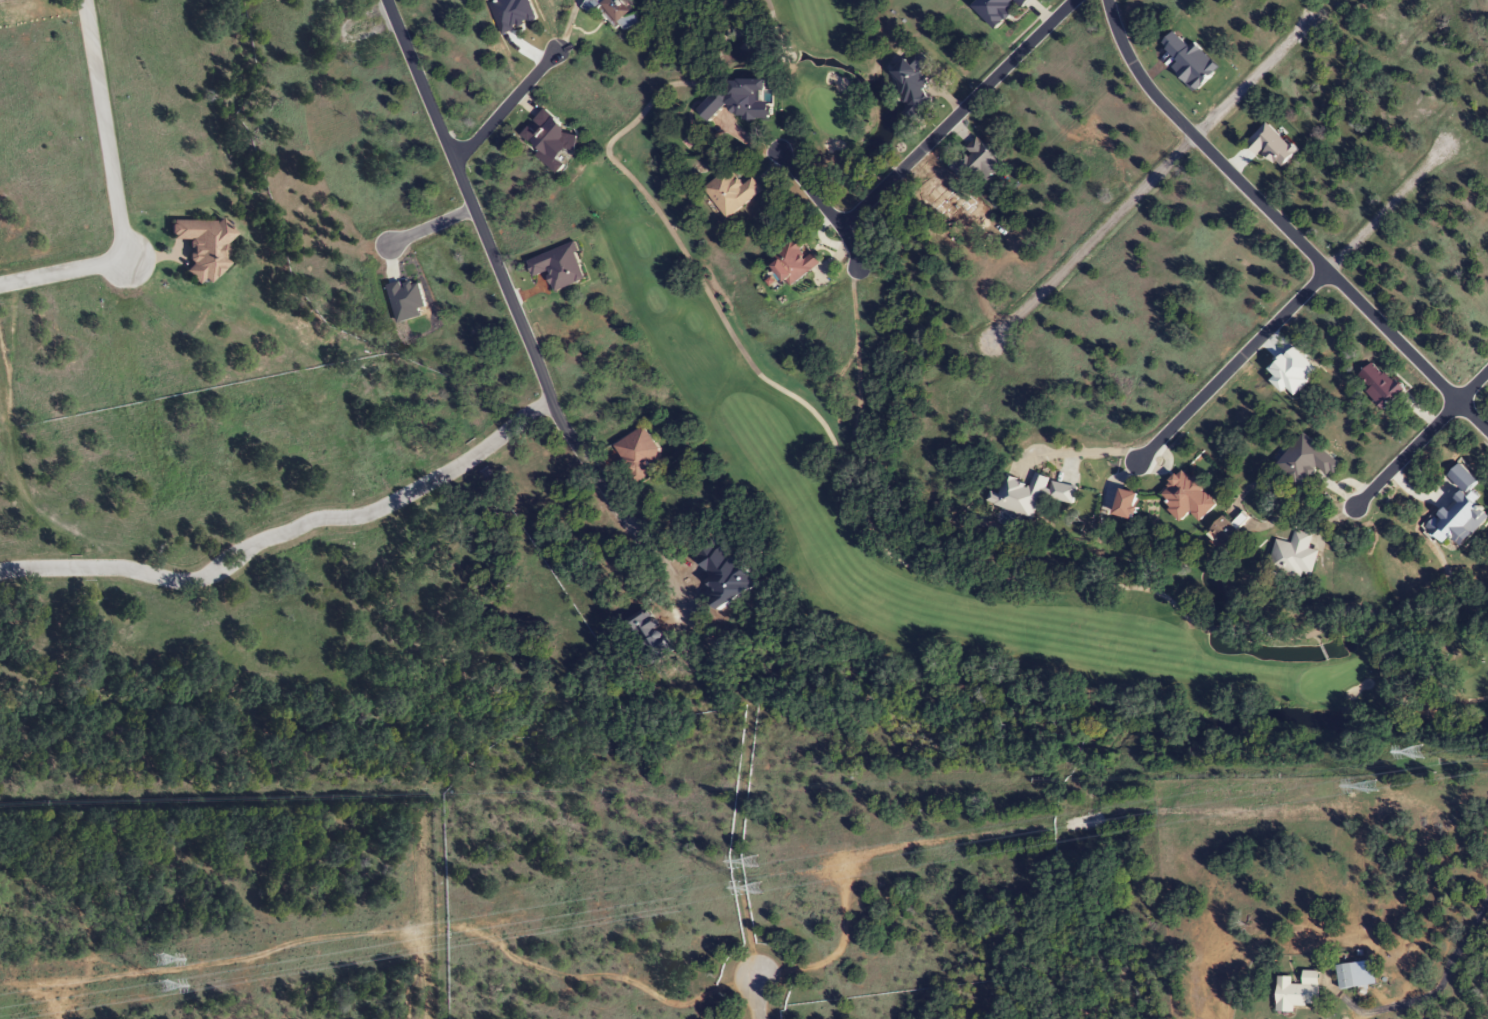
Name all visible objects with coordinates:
building: (996, 10)
building: (614, 12)
road: (506, 106)
road: (955, 113)
road: (103, 125)
building: (547, 138)
building: (975, 163)
road: (1155, 176)
building: (730, 192)
road: (824, 207)
road: (1282, 225)
road: (430, 226)
building: (201, 246)
building: (793, 260)
road: (63, 268)
road: (1293, 304)
road: (523, 329)
building: (1377, 385)
park: (742, 417)
road: (1421, 438)
building: (637, 454)
building: (1307, 461)
building: (1029, 495)
building: (1186, 497)
building: (1126, 504)
road: (285, 529)
building: (1294, 555)
power tower: (1418, 750)
power tower: (1444, 778)
power tower: (1095, 842)
power tower: (753, 861)
power tower: (754, 888)
power tower: (158, 958)
road: (1451, 966)
building: (1344, 977)
power tower: (155, 992)
building: (1296, 992)
road: (756, 1000)

